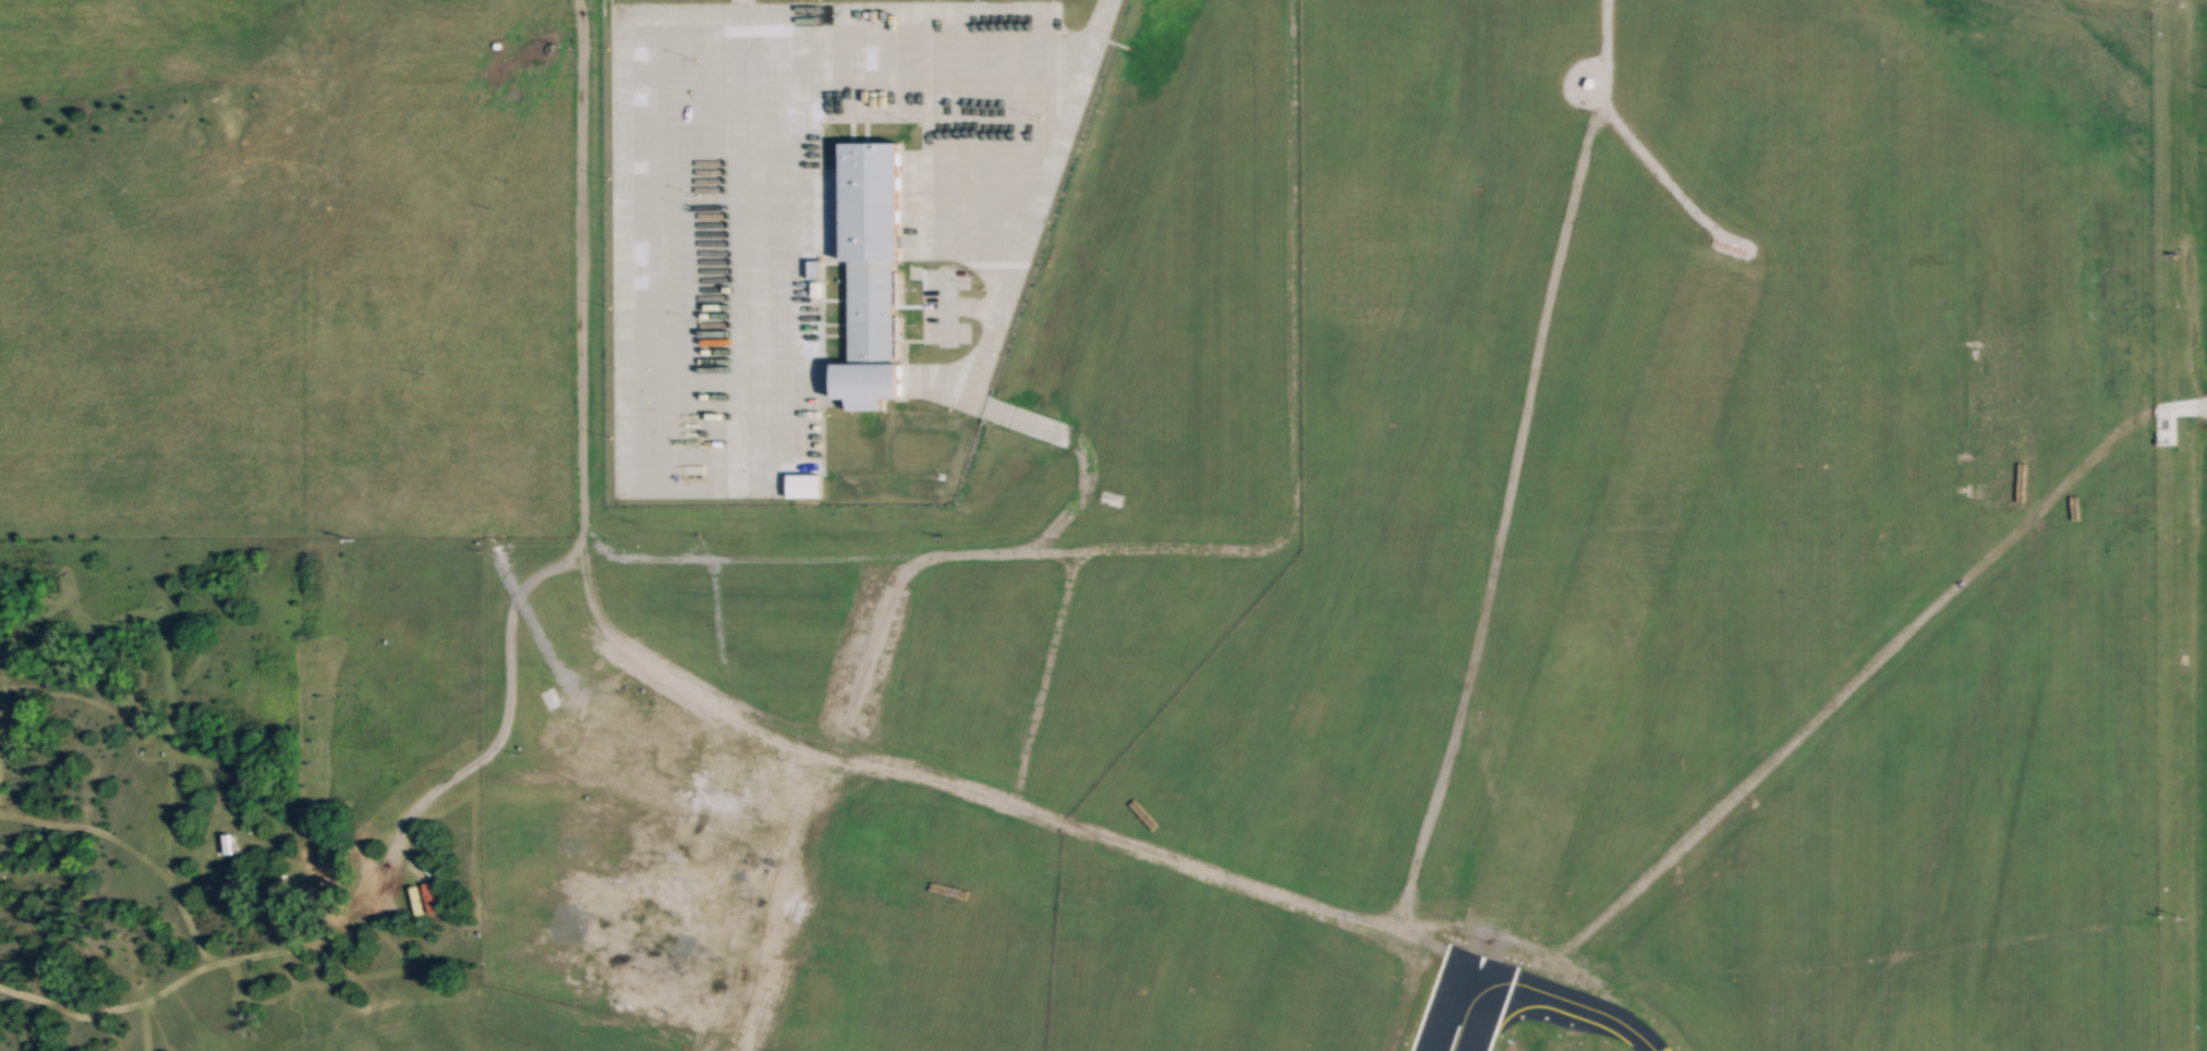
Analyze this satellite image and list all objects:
building: (872, 276)
road: (1509, 463)
building: (803, 485)
airport: (1103, 525)
road: (1006, 554)
road: (1871, 660)
building: (1475, 712)
building: (636, 786)
road: (1010, 805)
building: (223, 843)
road: (1507, 938)
airport taxiway: (1566, 1001)
airport runway: (1462, 1003)
building: (1472, 1026)

